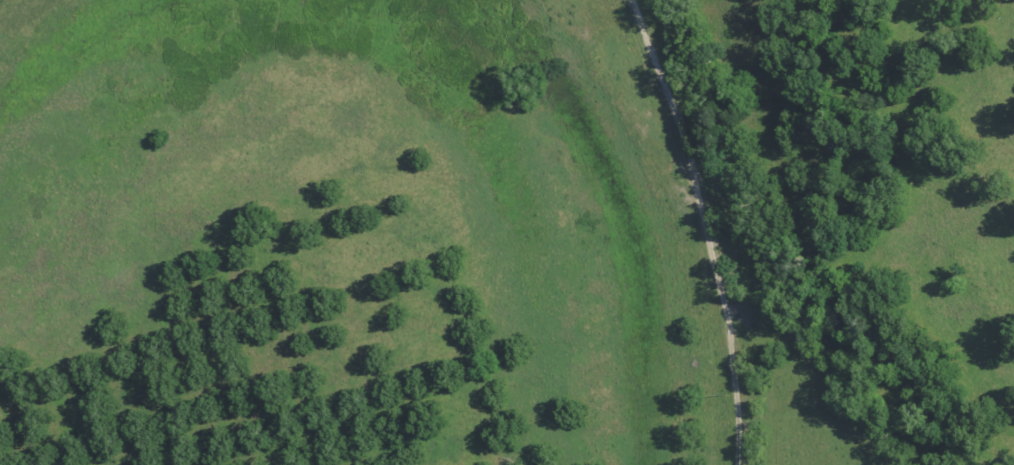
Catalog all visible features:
road: (724, 226)

